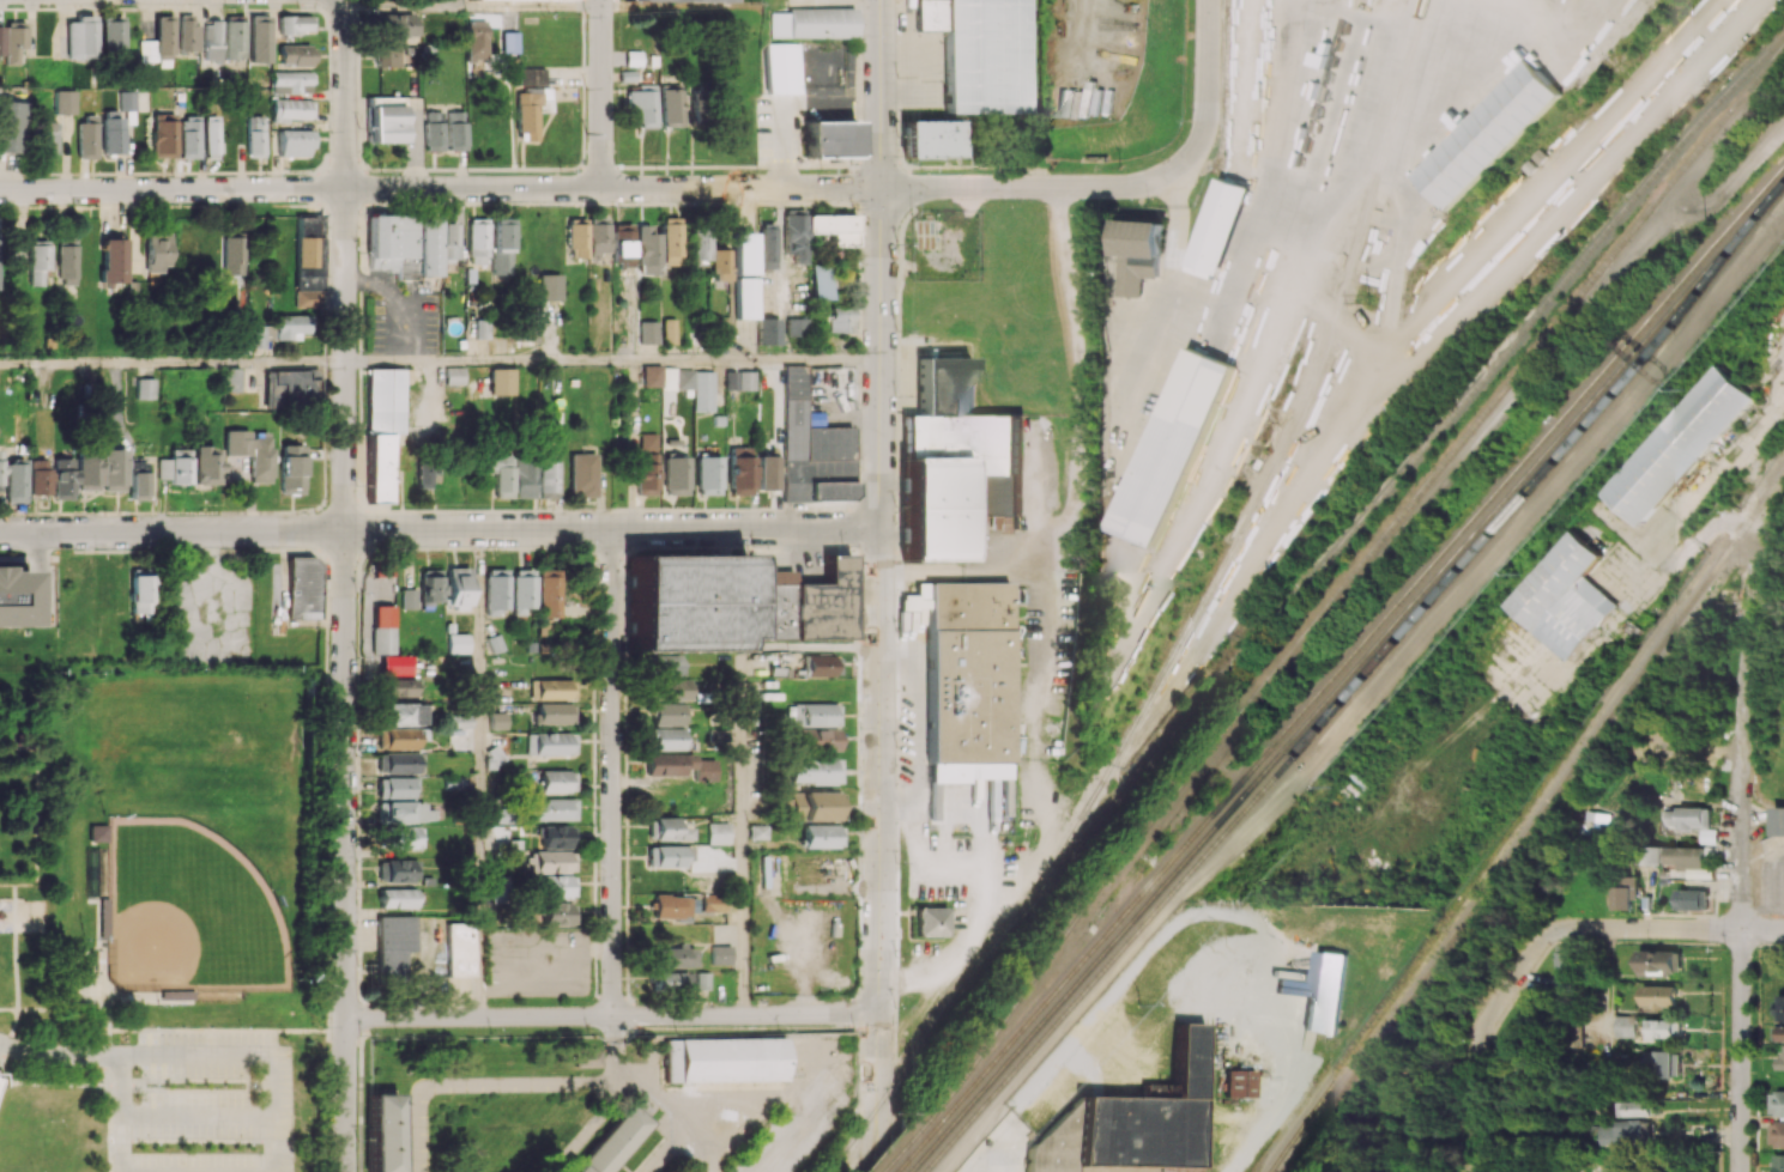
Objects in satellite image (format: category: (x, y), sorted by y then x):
building: (532, 0)
building: (682, 0)
road: (462, 2)
road: (398, 5)
road: (532, 5)
road: (671, 5)
building: (929, 16)
road: (1372, 16)
building: (294, 23)
building: (812, 23)
building: (398, 24)
building: (187, 34)
building: (163, 36)
building: (234, 36)
building: (80, 37)
building: (110, 37)
building: (259, 38)
building: (1, 40)
building: (476, 40)
building: (211, 42)
building: (509, 42)
building: (14, 43)
building: (146, 50)
building: (295, 54)
building: (386, 55)
building: (986, 56)
building: (633, 57)
building: (784, 67)
building: (531, 75)
road: (1204, 78)
building: (290, 79)
road: (601, 93)
road: (882, 93)
building: (126, 101)
building: (64, 102)
road: (840, 102)
building: (642, 104)
building: (671, 104)
building: (291, 108)
building: (526, 113)
building: (386, 115)
building: (8, 127)
building: (455, 130)
building: (433, 133)
building: (113, 134)
building: (1489, 134)
building: (163, 135)
building: (210, 135)
building: (48, 136)
building: (86, 136)
building: (188, 138)
building: (255, 138)
road: (781, 138)
building: (830, 139)
building: (930, 139)
building: (295, 141)
road: (1365, 152)
road: (1271, 168)
road: (1735, 182)
road: (1041, 187)
road: (440, 188)
traffic signals: (882, 188)
building: (833, 229)
building: (1220, 229)
power tower: (1703, 231)
building: (501, 233)
building: (794, 235)
building: (577, 237)
building: (599, 237)
building: (670, 239)
building: (450, 242)
building: (478, 242)
building: (401, 244)
building: (622, 244)
building: (700, 245)
building: (766, 245)
building: (647, 250)
building: (158, 251)
building: (744, 253)
building: (1138, 253)
building: (17, 254)
building: (234, 255)
building: (113, 260)
building: (309, 261)
building: (66, 263)
road: (345, 263)
building: (719, 265)
building: (502, 266)
building: (470, 274)
building: (820, 280)
building: (549, 286)
road: (410, 291)
railway: (1674, 293)
road: (403, 298)
building: (745, 298)
railway: (1676, 305)
road: (1168, 306)
power tower: (1372, 306)
building: (842, 317)
building: (526, 323)
building: (291, 326)
building: (794, 326)
building: (482, 328)
building: (669, 330)
building: (768, 330)
building: (648, 332)
road: (1553, 342)
road: (1080, 357)
road: (613, 360)
road: (173, 362)
building: (454, 375)
building: (651, 375)
building: (231, 379)
building: (675, 379)
building: (739, 379)
building: (145, 388)
building: (294, 388)
building: (702, 390)
building: (382, 427)
building: (811, 445)
building: (1175, 447)
building: (1680, 447)
building: (250, 451)
building: (949, 457)
building: (201, 464)
building: (173, 466)
building: (739, 467)
building: (291, 468)
building: (99, 469)
building: (766, 469)
building: (675, 472)
building: (708, 472)
building: (546, 473)
building: (424, 474)
building: (512, 474)
building: (582, 474)
building: (646, 474)
building: (38, 476)
building: (62, 478)
railway: (1270, 479)
building: (14, 480)
building: (135, 484)
road: (440, 530)
road: (1715, 530)
railway: (1349, 533)
building: (1554, 577)
building: (302, 587)
railway: (1343, 587)
building: (456, 588)
building: (422, 589)
building: (496, 590)
building: (522, 590)
building: (141, 593)
building: (549, 593)
building: (733, 597)
building: (14, 599)
building: (915, 599)
building: (1576, 615)
building: (382, 628)
building: (456, 643)
road: (811, 646)
road: (902, 650)
building: (821, 663)
building: (394, 664)
building: (666, 664)
road: (881, 669)
building: (968, 681)
building: (398, 687)
railway: (1351, 687)
building: (552, 688)
building: (671, 688)
road: (1367, 700)
building: (400, 713)
building: (554, 713)
building: (667, 713)
building: (812, 713)
building: (496, 719)
building: (459, 721)
park: (200, 730)
road: (919, 734)
building: (719, 735)
building: (23, 737)
building: (669, 737)
building: (398, 739)
building: (820, 739)
building: (550, 743)
road: (1740, 749)
building: (398, 763)
building: (665, 765)
building: (815, 770)
road: (612, 772)
road: (479, 773)
building: (557, 781)
road: (36, 782)
railway: (1239, 785)
road: (328, 789)
railway: (1242, 797)
building: (399, 801)
building: (812, 806)
building: (554, 809)
building: (1688, 818)
building: (1779, 819)
railway: (1529, 821)
building: (667, 828)
road: (743, 831)
building: (756, 831)
building: (718, 832)
building: (98, 834)
building: (821, 836)
building: (404, 837)
building: (556, 837)
road: (346, 850)
building: (667, 855)
building: (1674, 856)
building: (552, 861)
building: (400, 869)
road: (897, 872)
building: (1700, 873)
road: (6, 885)
road: (984, 885)
building: (557, 886)
building: (1625, 893)
building: (395, 898)
building: (1692, 899)
building: (713, 901)
building: (670, 906)
park: (189, 912)
road: (1224, 912)
building: (557, 913)
park: (158, 916)
building: (931, 921)
road: (1599, 928)
building: (392, 945)
road: (533, 946)
road: (13, 947)
building: (459, 949)
building: (720, 954)
building: (672, 957)
building: (1659, 961)
building: (1566, 965)
building: (667, 980)
building: (1324, 990)
building: (1659, 996)
building: (1780, 1008)
road: (75, 1009)
road: (10, 1010)
road: (615, 1015)
building: (1626, 1025)
road: (816, 1026)
building: (1664, 1028)
road: (219, 1031)
building: (1780, 1033)
road: (110, 1038)
road: (10, 1045)
road: (1736, 1050)
road: (59, 1056)
building: (585, 1058)
building: (724, 1059)
building: (1778, 1061)
building: (1663, 1063)
road: (507, 1081)
building: (1239, 1082)
road: (61, 1085)
road: (121, 1086)
road: (196, 1086)
road: (272, 1086)
parking lot: (200, 1087)
building: (1776, 1103)
road: (1472, 1106)
railway: (882, 1107)
building: (1641, 1107)
road: (675, 1111)
building: (1132, 1122)
road: (588, 1128)
building: (1626, 1132)
building: (382, 1134)
building: (1776, 1134)
building: (615, 1143)
road: (665, 1148)
railway: (899, 1155)
road: (881, 1162)
railway: (905, 1162)
building: (1778, 1162)
road: (986, 1166)
building: (1623, 1168)
railway: (909, 1170)

